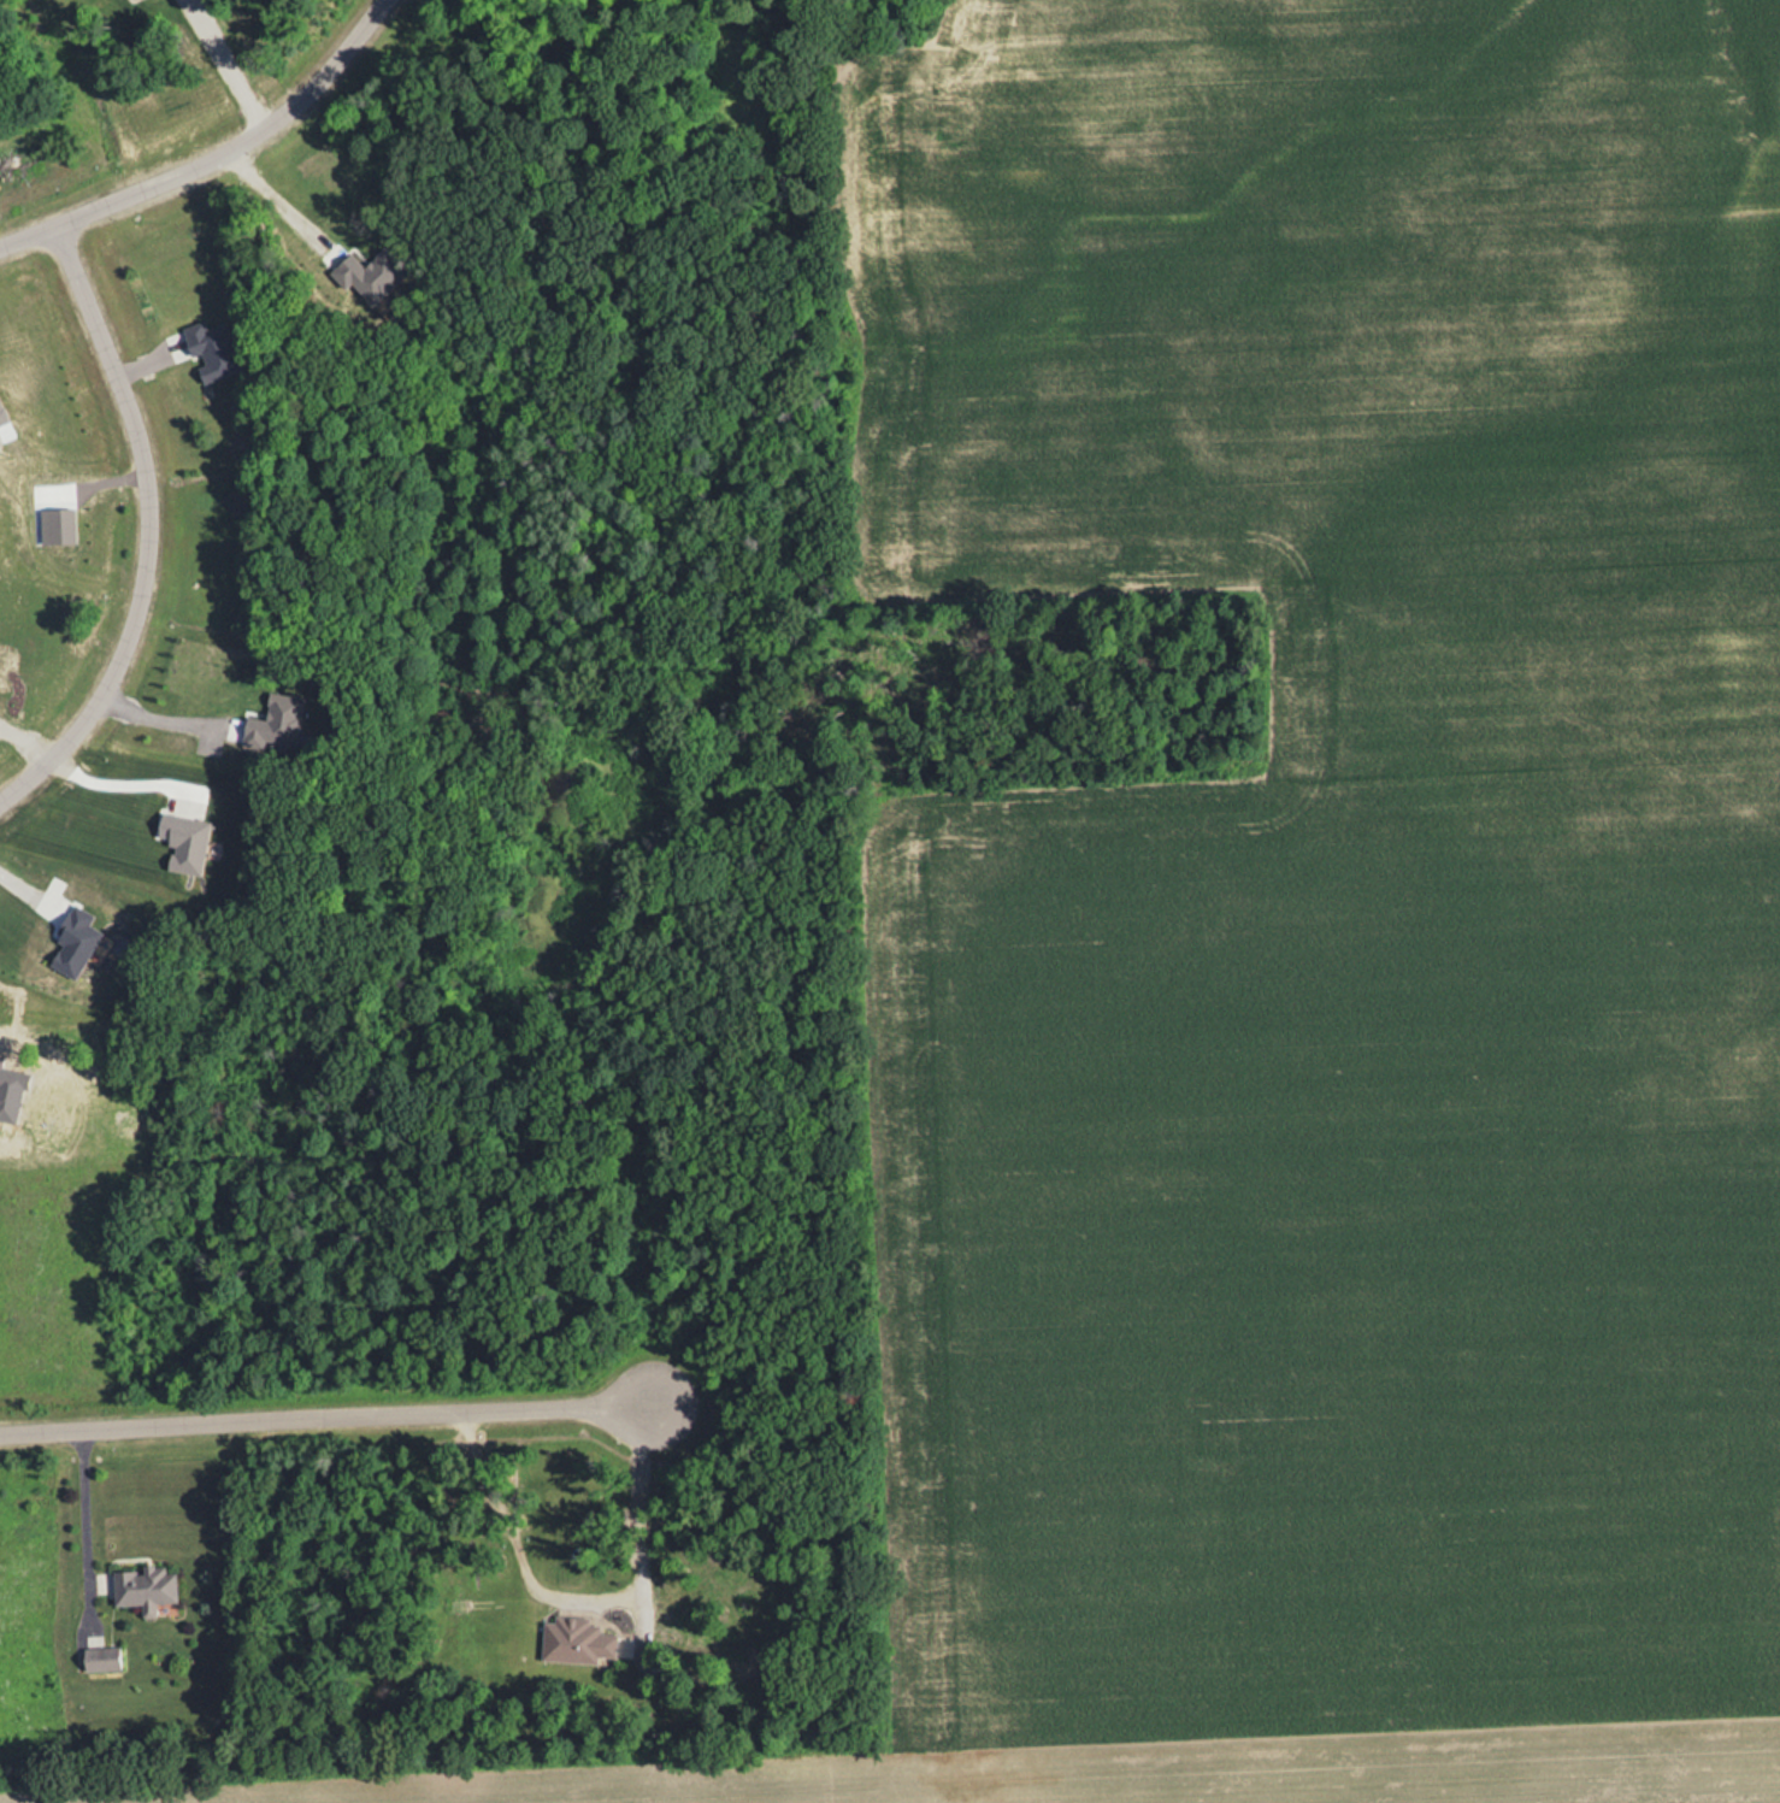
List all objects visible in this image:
road: (213, 154)
road: (148, 529)
road: (325, 1416)
road: (94, 1507)
road: (648, 1509)
building: (142, 1586)
building: (98, 1657)

